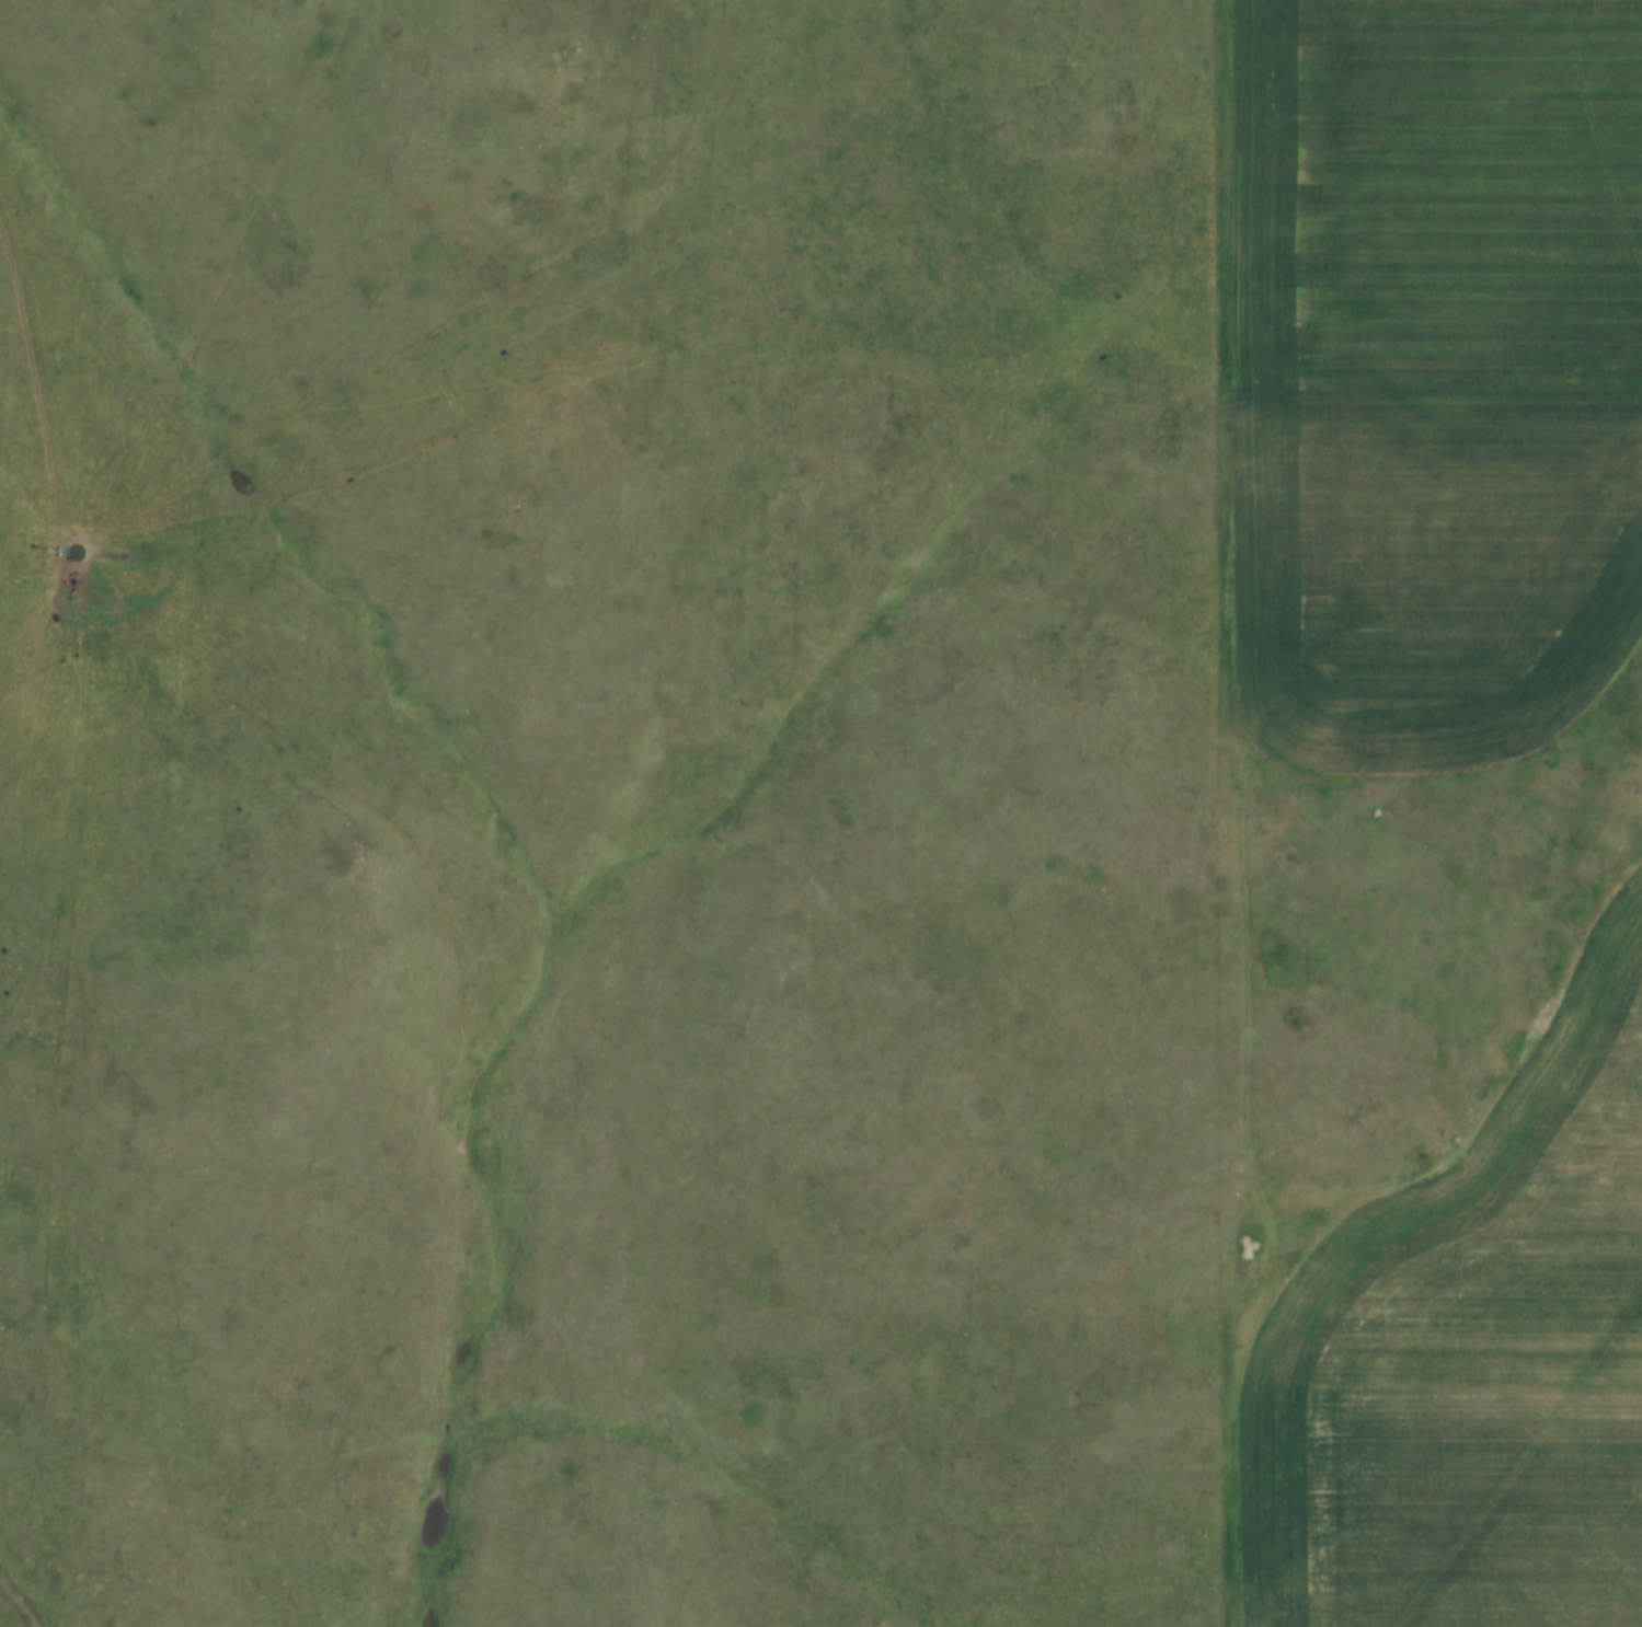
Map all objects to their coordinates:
quarry: (21, 1601)

